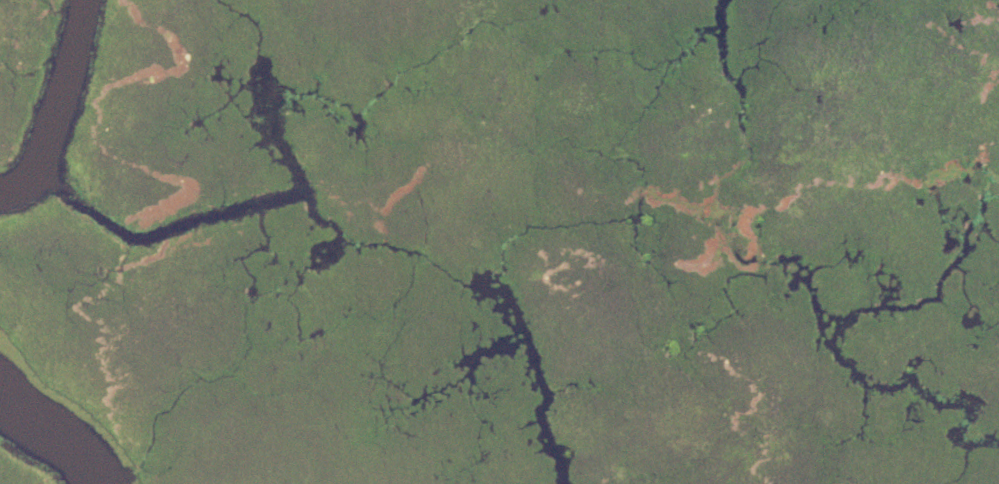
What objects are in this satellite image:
river: (56, 107)
river: (46, 440)

